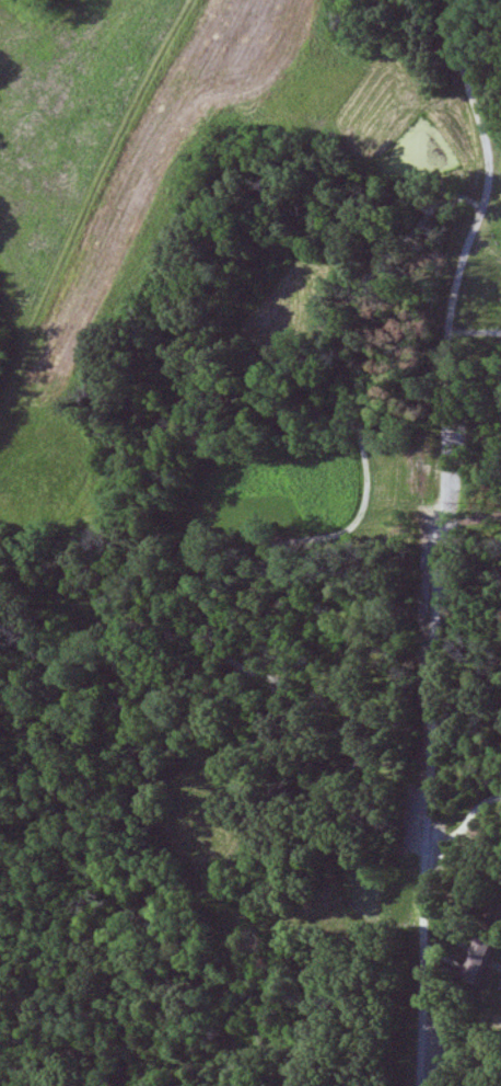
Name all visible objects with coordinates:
road: (475, 335)
road: (445, 537)
road: (466, 824)

